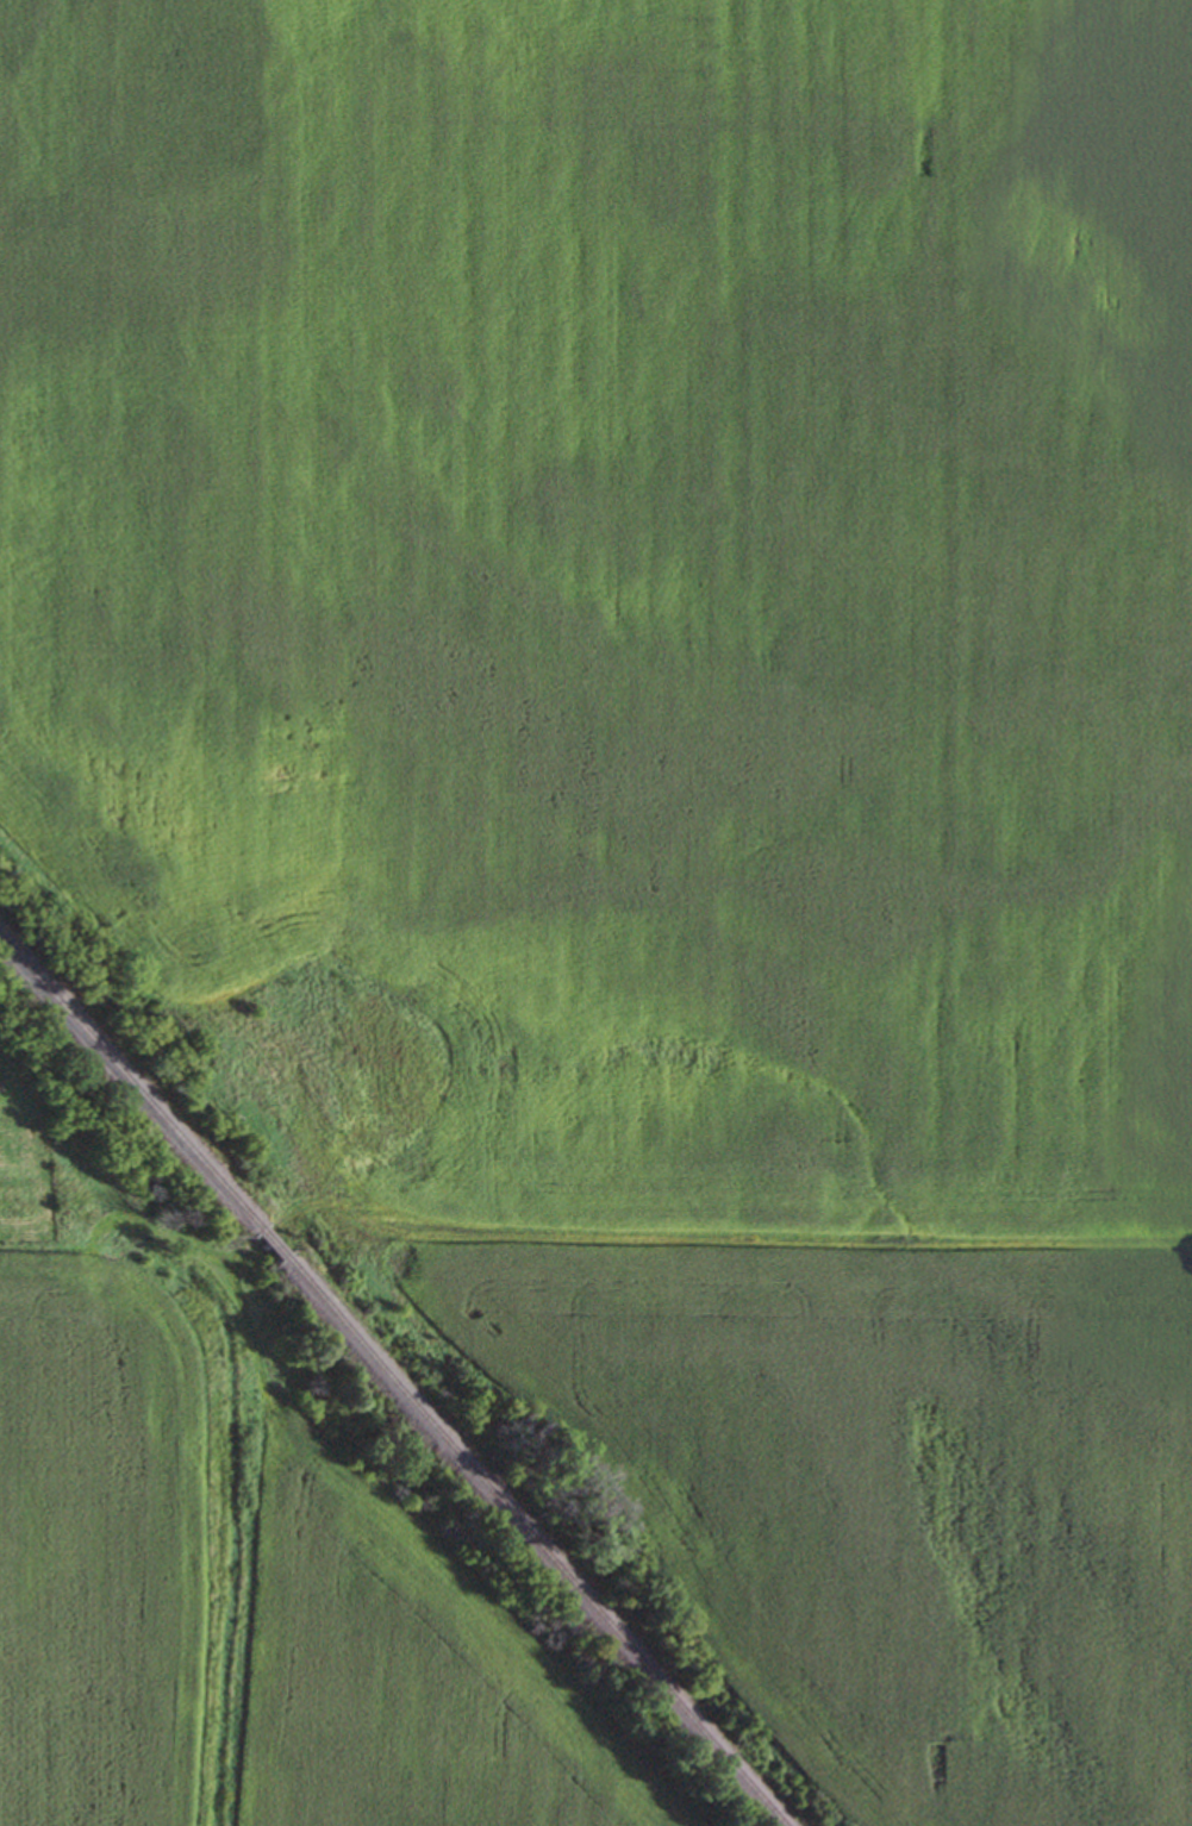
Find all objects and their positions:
railway: (127, 1087)
railway: (268, 1246)
railway: (531, 1543)

